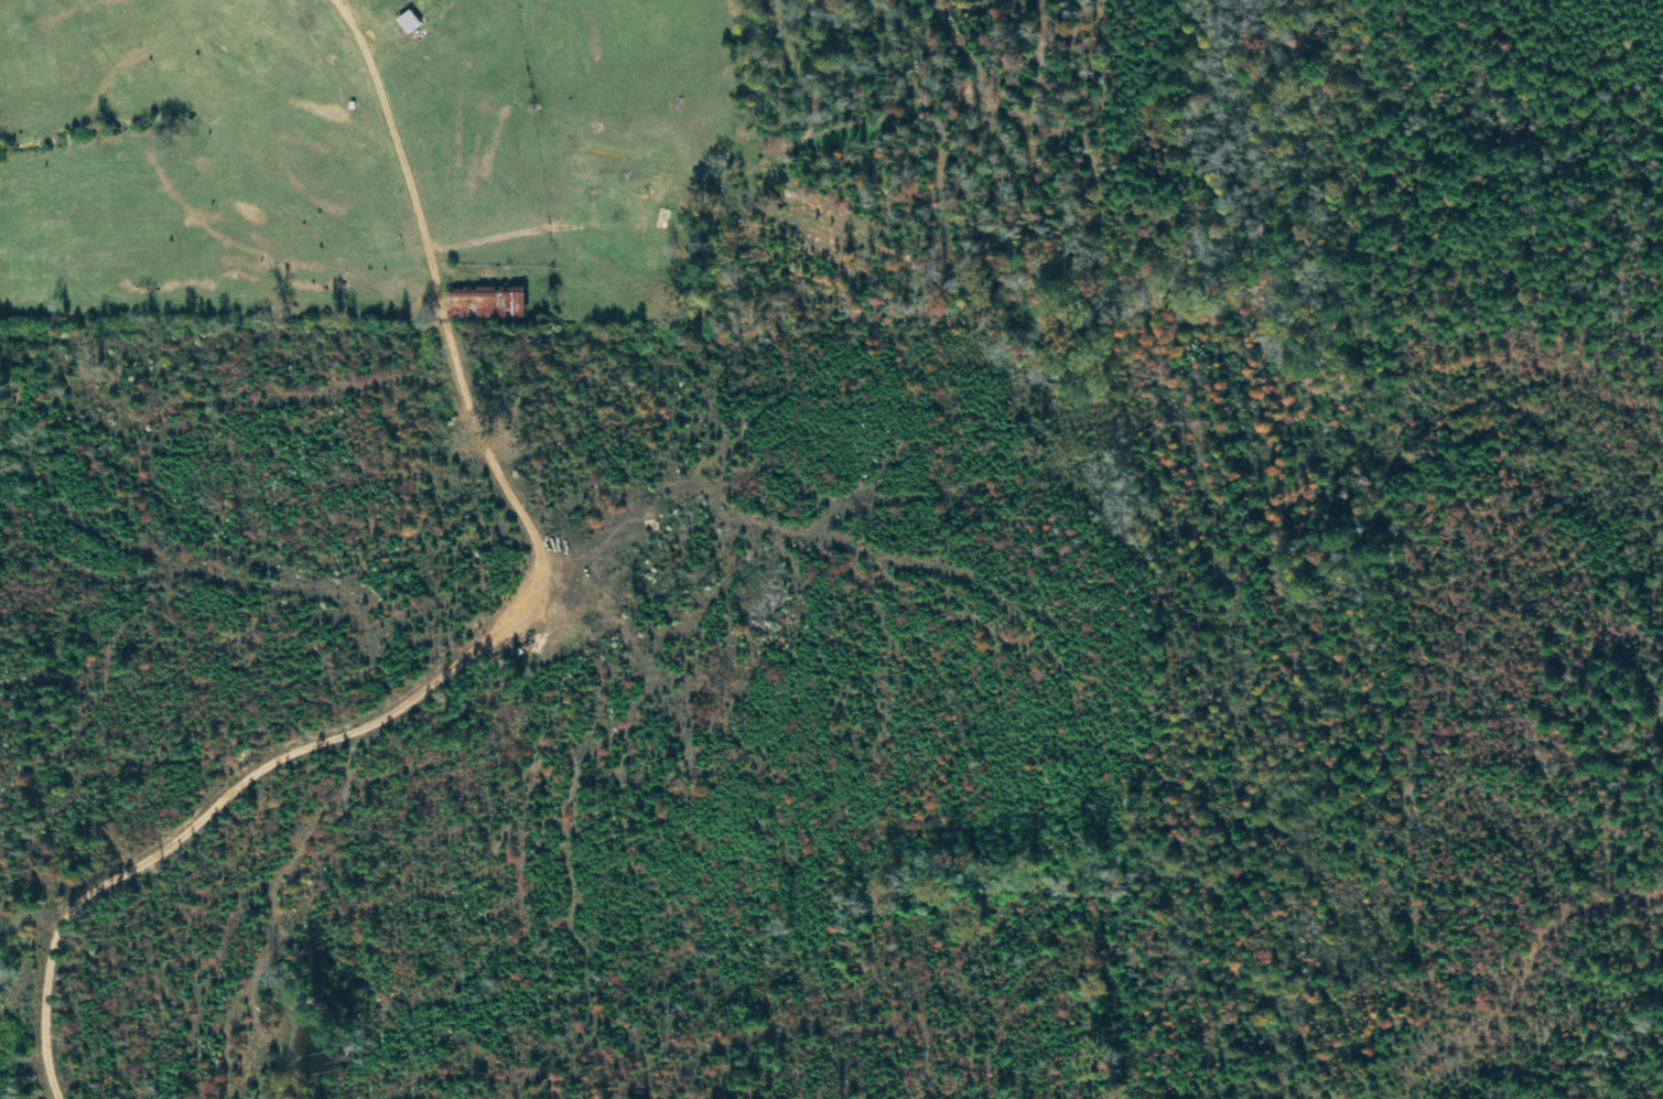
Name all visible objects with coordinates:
road: (342, 4)
road: (479, 643)

